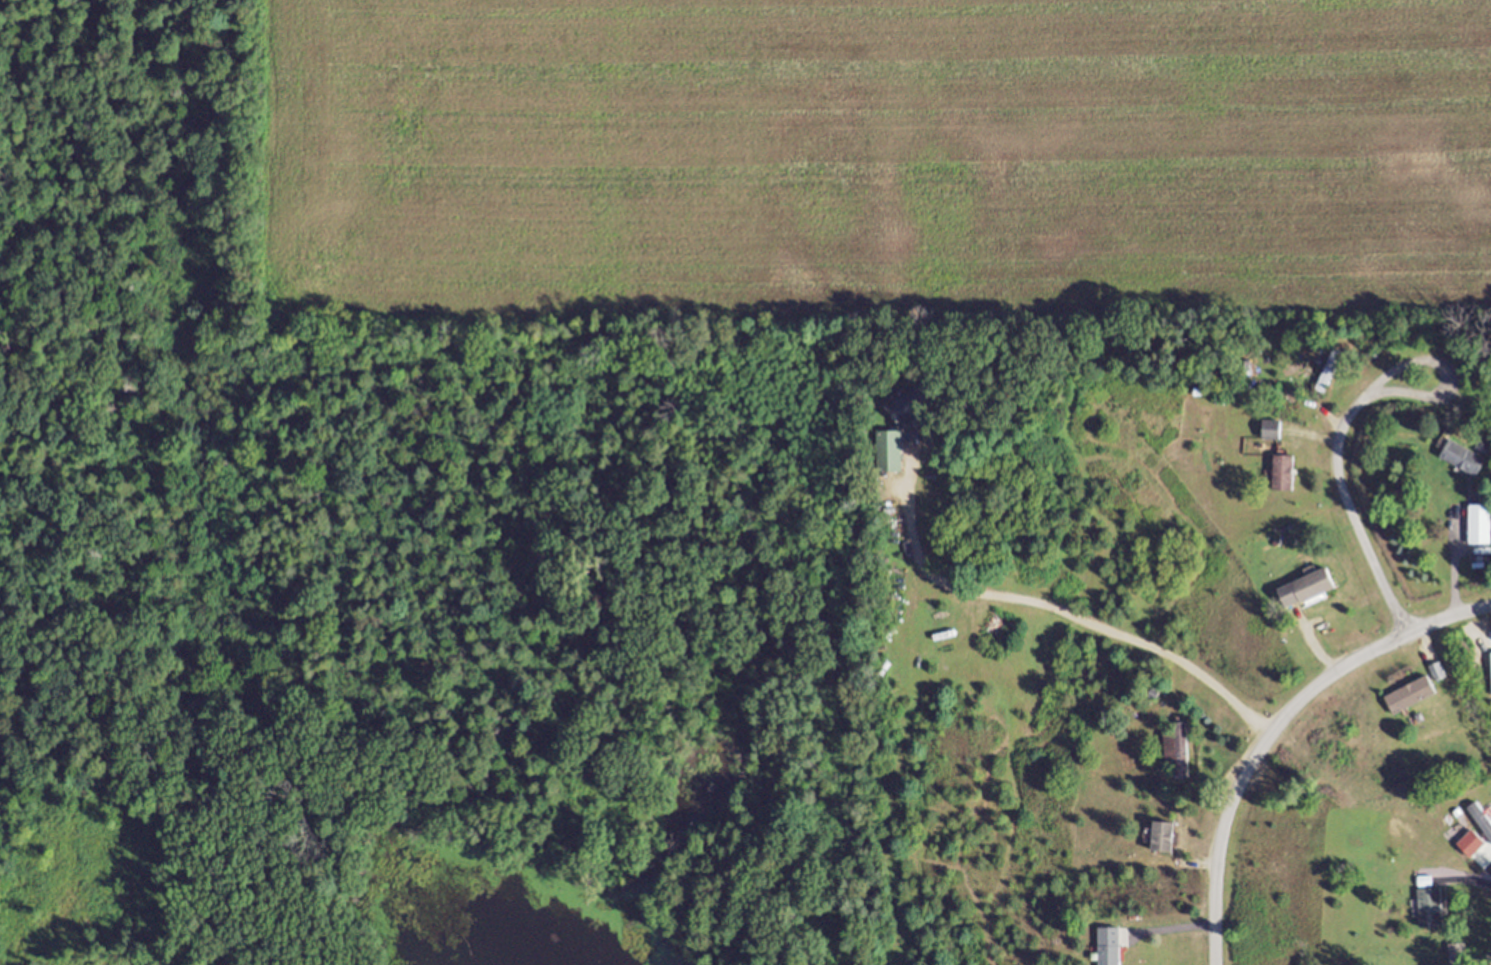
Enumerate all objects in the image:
crop: (878, 156)
building: (1329, 375)
building: (914, 406)
road: (1353, 407)
building: (1272, 432)
building: (894, 453)
building: (1464, 461)
building: (1285, 475)
building: (1480, 527)
building: (1309, 590)
road: (1066, 614)
building: (1415, 698)
road: (1277, 729)
building: (1177, 752)
building: (1166, 839)
building: (1432, 909)
building: (1113, 947)

